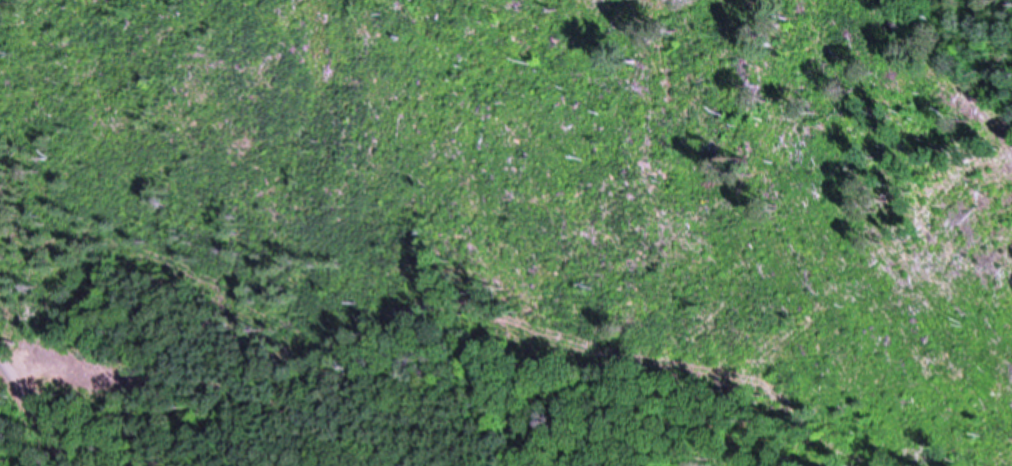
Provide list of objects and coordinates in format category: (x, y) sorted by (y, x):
road: (36, 400)

